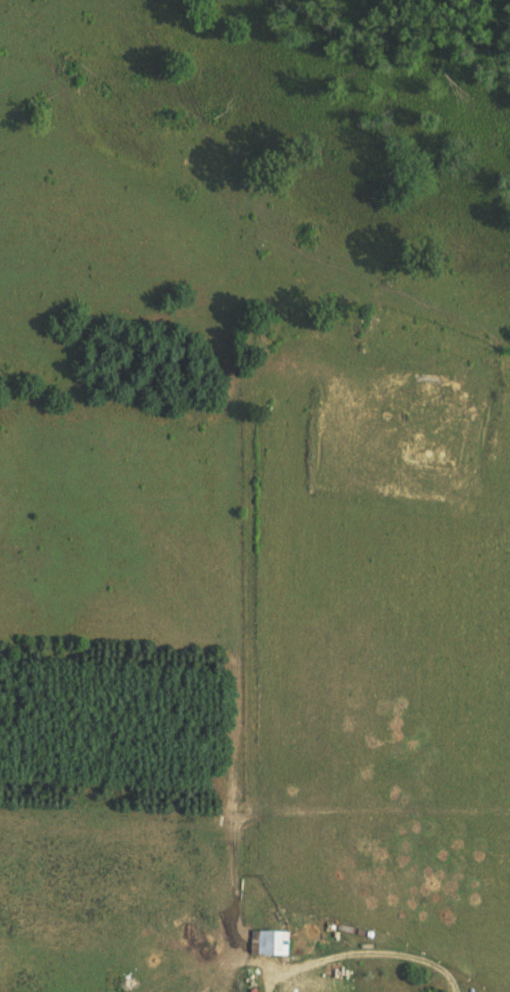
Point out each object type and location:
building: (271, 942)
road: (367, 953)

